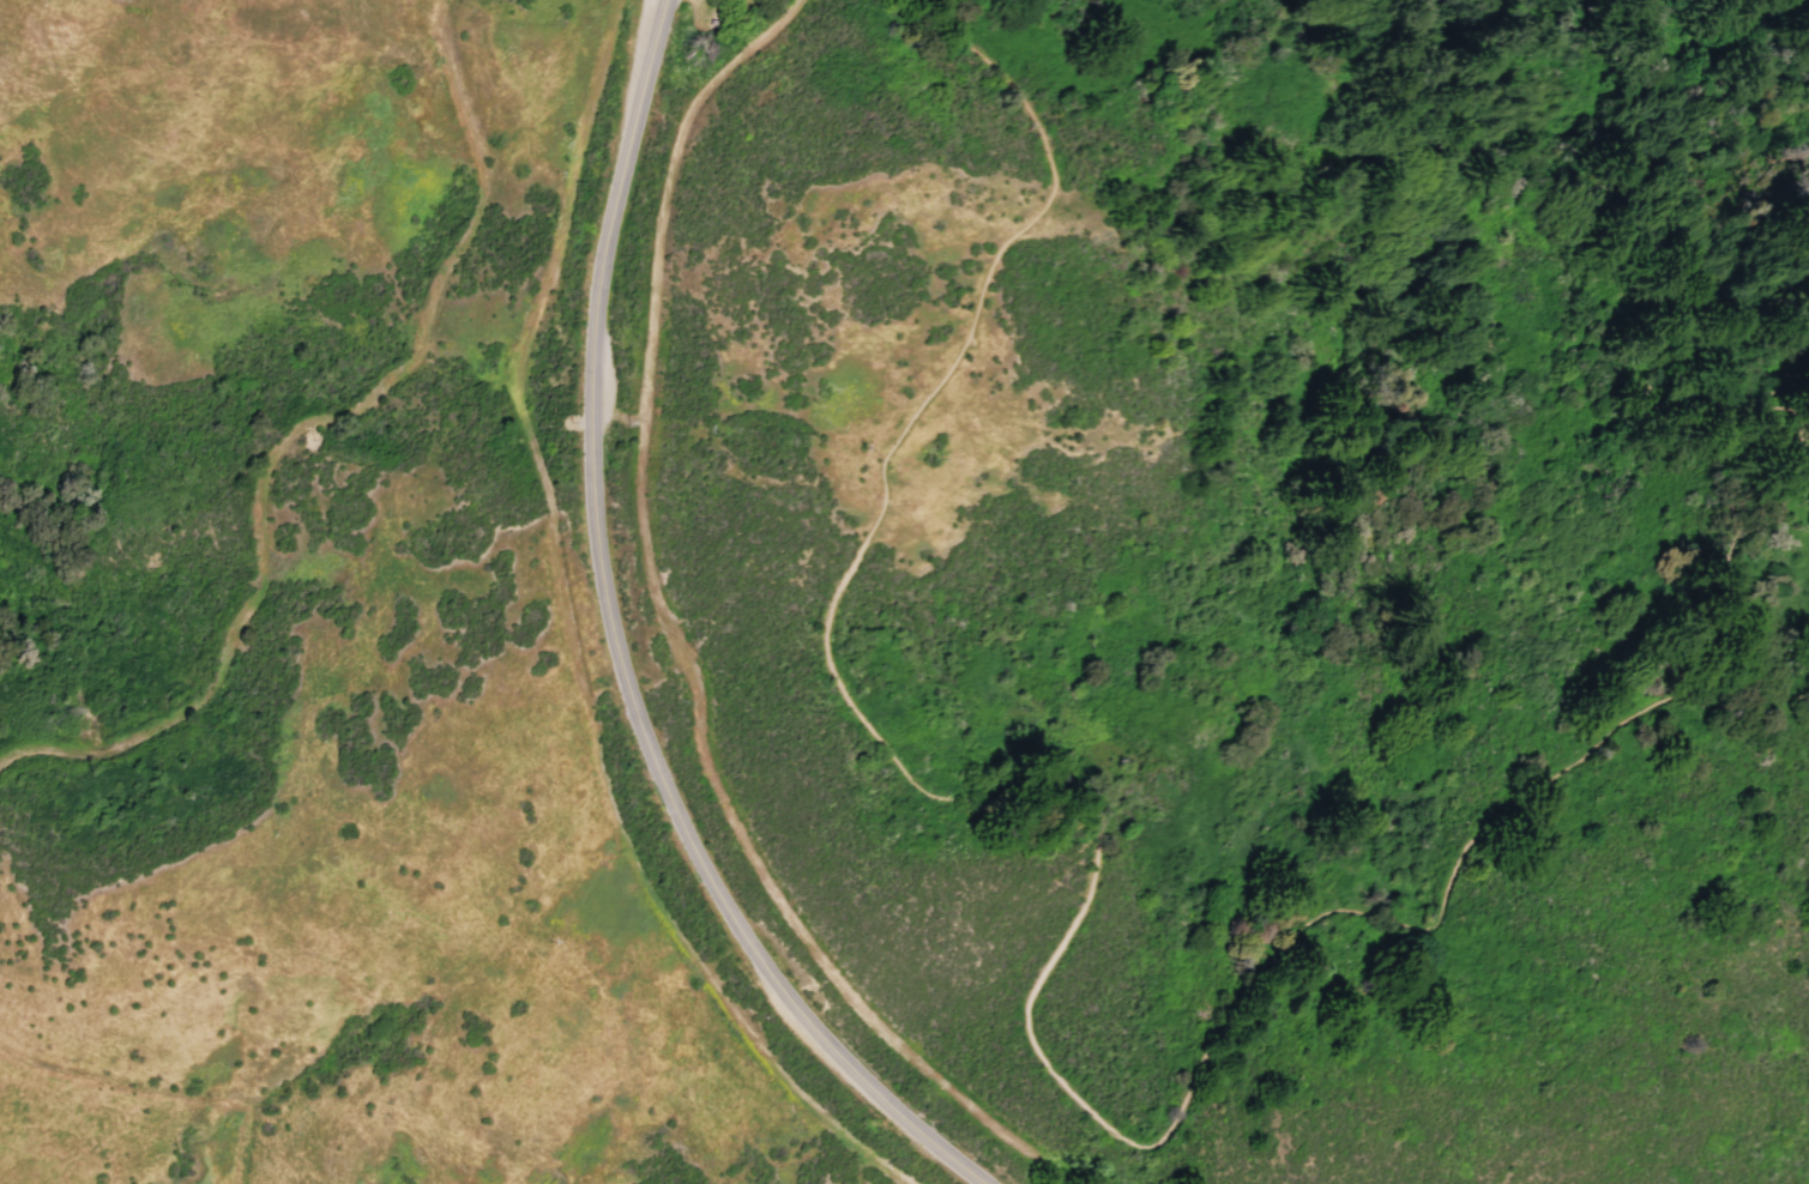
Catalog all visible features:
road: (649, 70)
road: (1775, 389)
road: (297, 424)
road: (677, 640)
road: (569, 641)
road: (1783, 695)
road: (639, 719)
road: (1098, 865)
road: (156, 1086)

